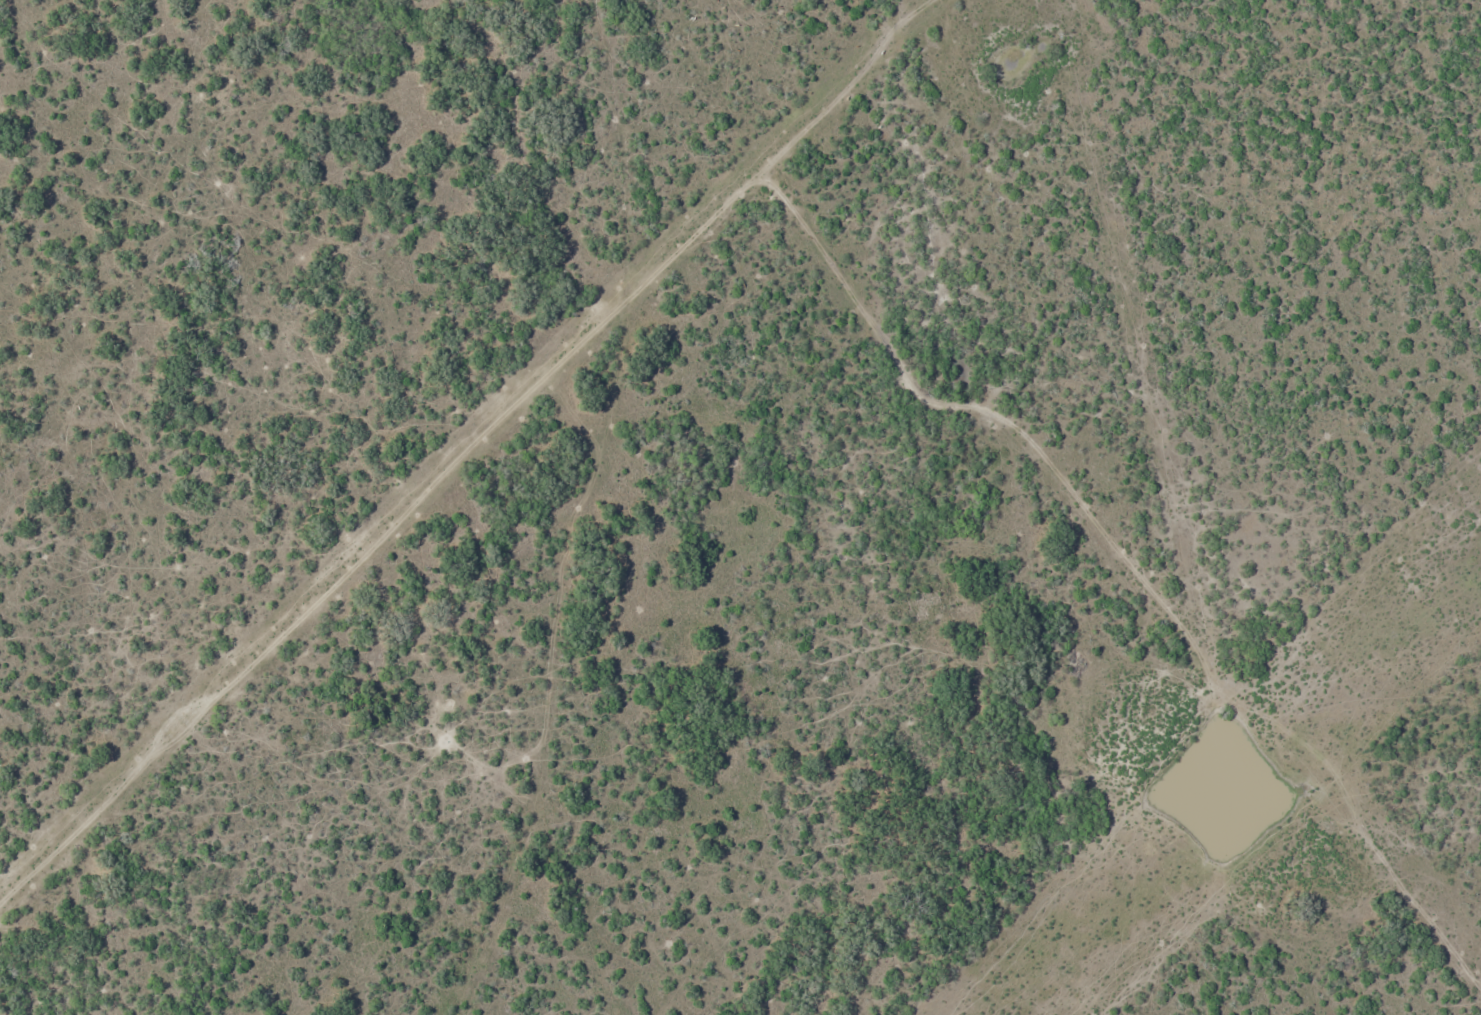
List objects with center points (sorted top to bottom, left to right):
road: (470, 458)

